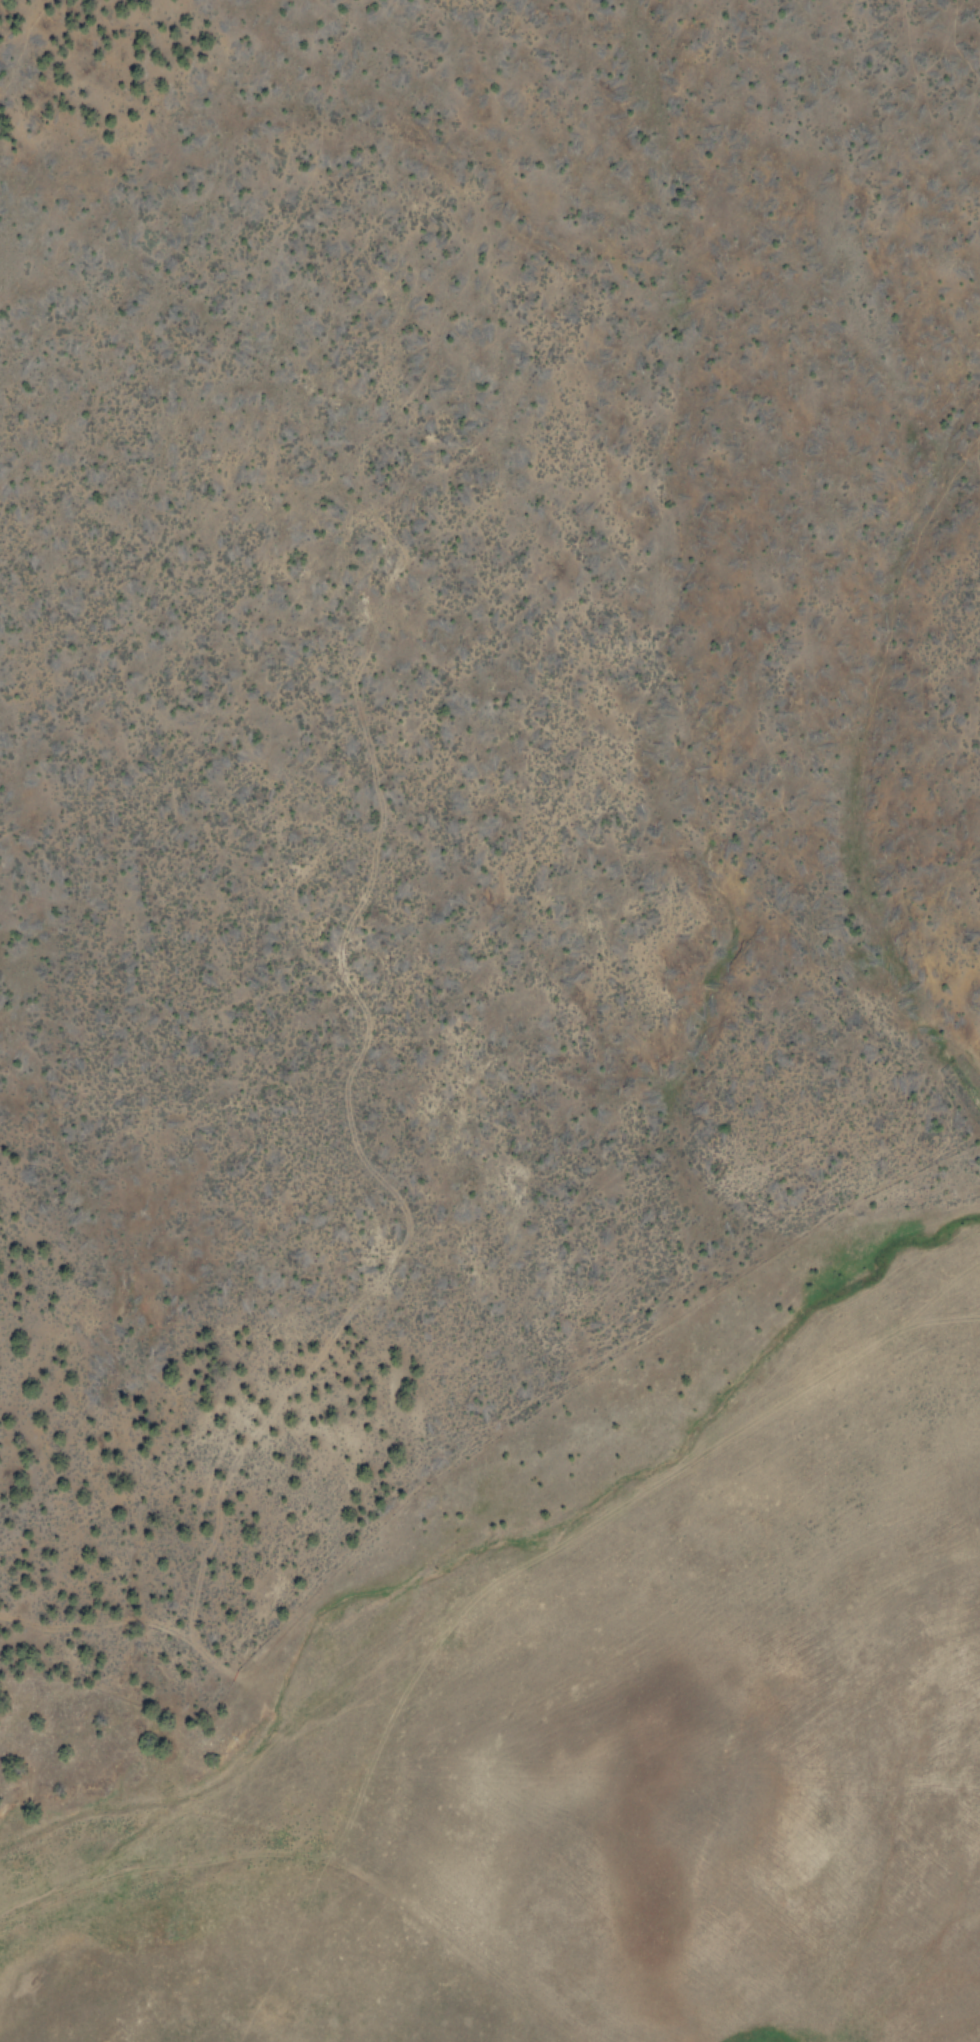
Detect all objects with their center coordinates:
road: (316, 1865)

